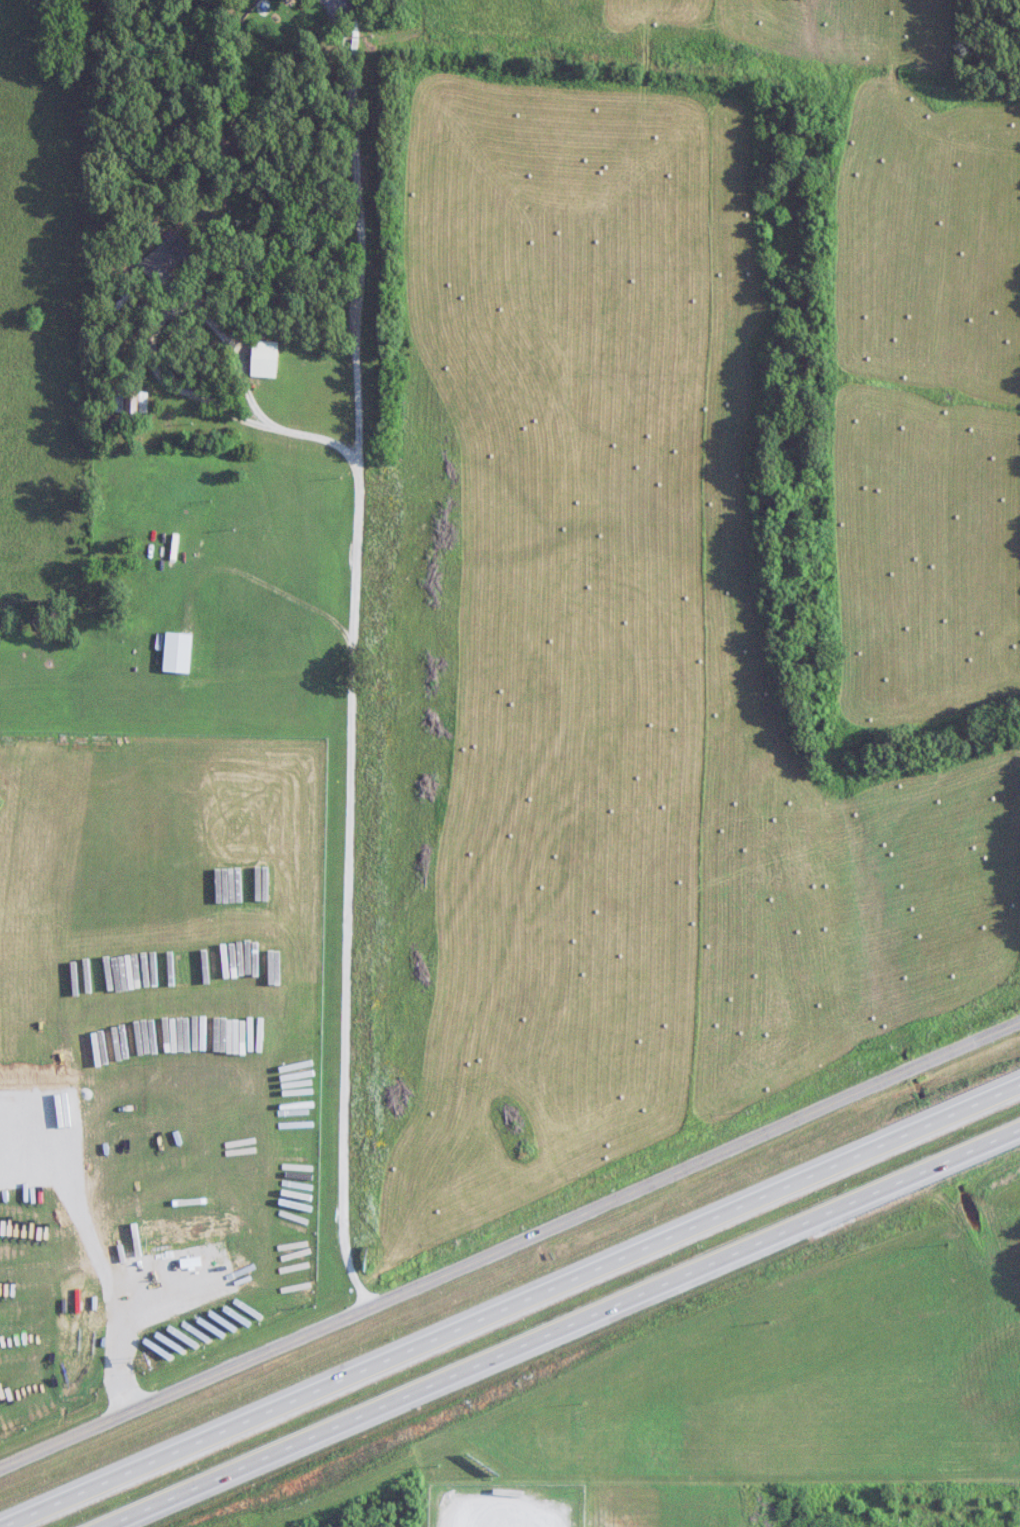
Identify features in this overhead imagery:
road: (358, 220)
building: (166, 261)
road: (151, 366)
building: (132, 402)
building: (178, 653)
crop: (613, 678)
road: (349, 870)
road: (508, 1246)
road: (525, 1312)
road: (575, 1333)

